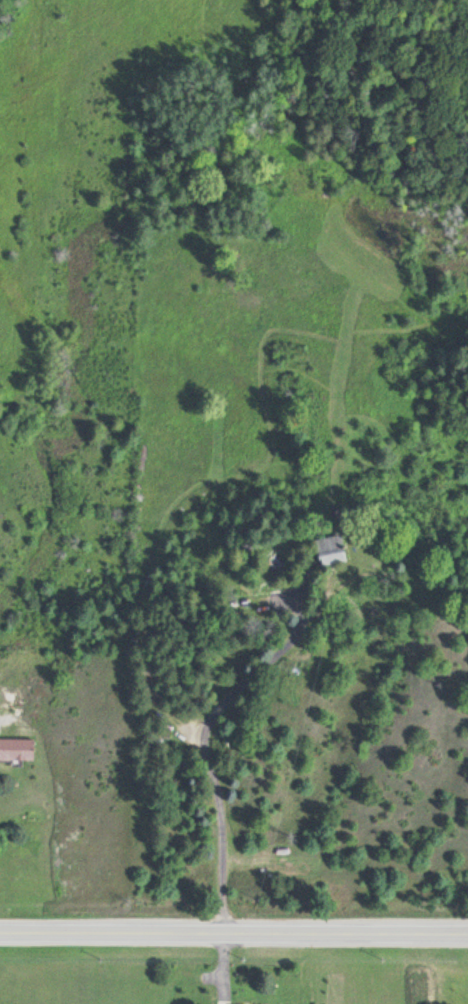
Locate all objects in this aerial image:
building: (326, 549)
building: (15, 748)
road: (209, 765)
road: (233, 932)
road: (212, 976)

